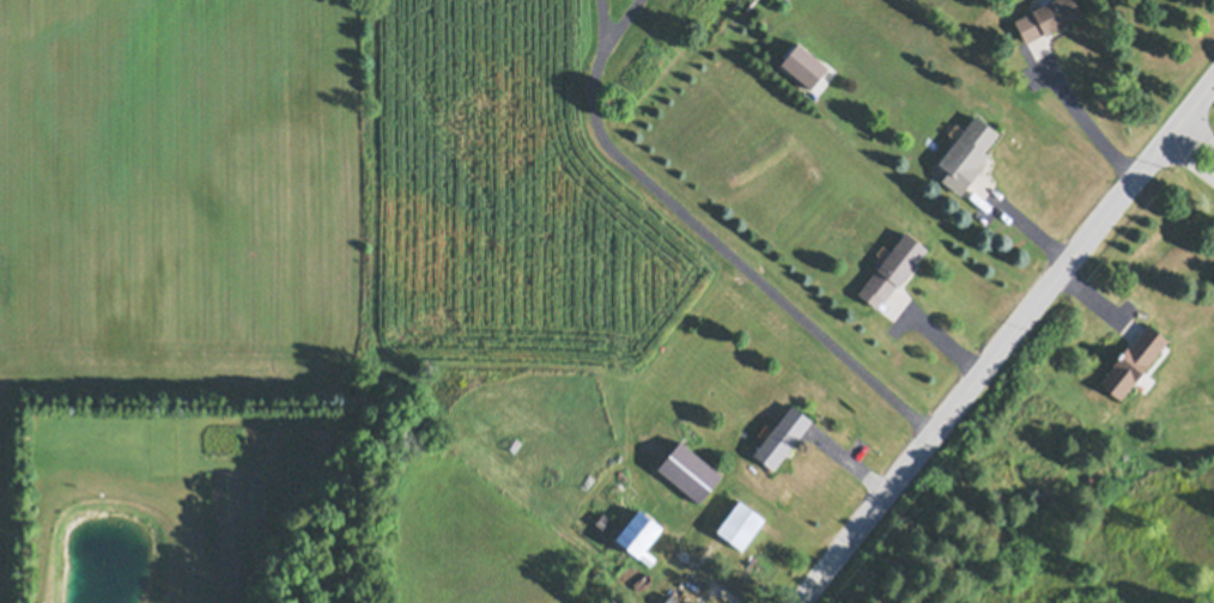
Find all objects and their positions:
building: (1045, 16)
road: (599, 24)
road: (614, 24)
building: (1027, 50)
building: (803, 62)
road: (1086, 123)
road: (1195, 148)
building: (966, 152)
road: (729, 256)
building: (892, 267)
road: (1004, 340)
building: (1133, 359)
building: (781, 434)
building: (688, 469)
building: (740, 522)
building: (632, 530)
building: (630, 577)
road: (709, 577)
road: (699, 590)
building: (672, 599)

